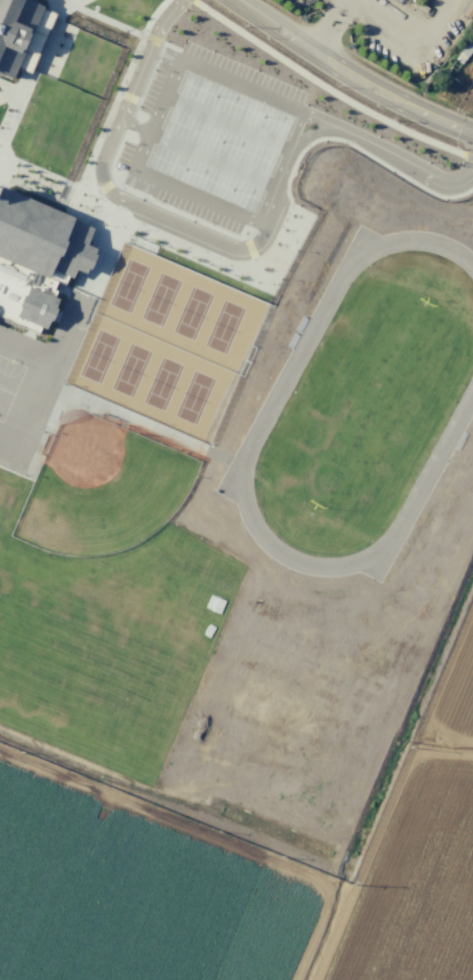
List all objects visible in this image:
building: (472, 1)
building: (466, 12)
building: (15, 32)
road: (186, 62)
road: (349, 73)
road: (136, 77)
road: (325, 121)
road: (135, 126)
road: (294, 132)
road: (299, 140)
road: (411, 165)
road: (202, 199)
road: (195, 233)
building: (39, 238)
building: (22, 291)
building: (36, 308)
park: (364, 404)
crop: (244, 875)

